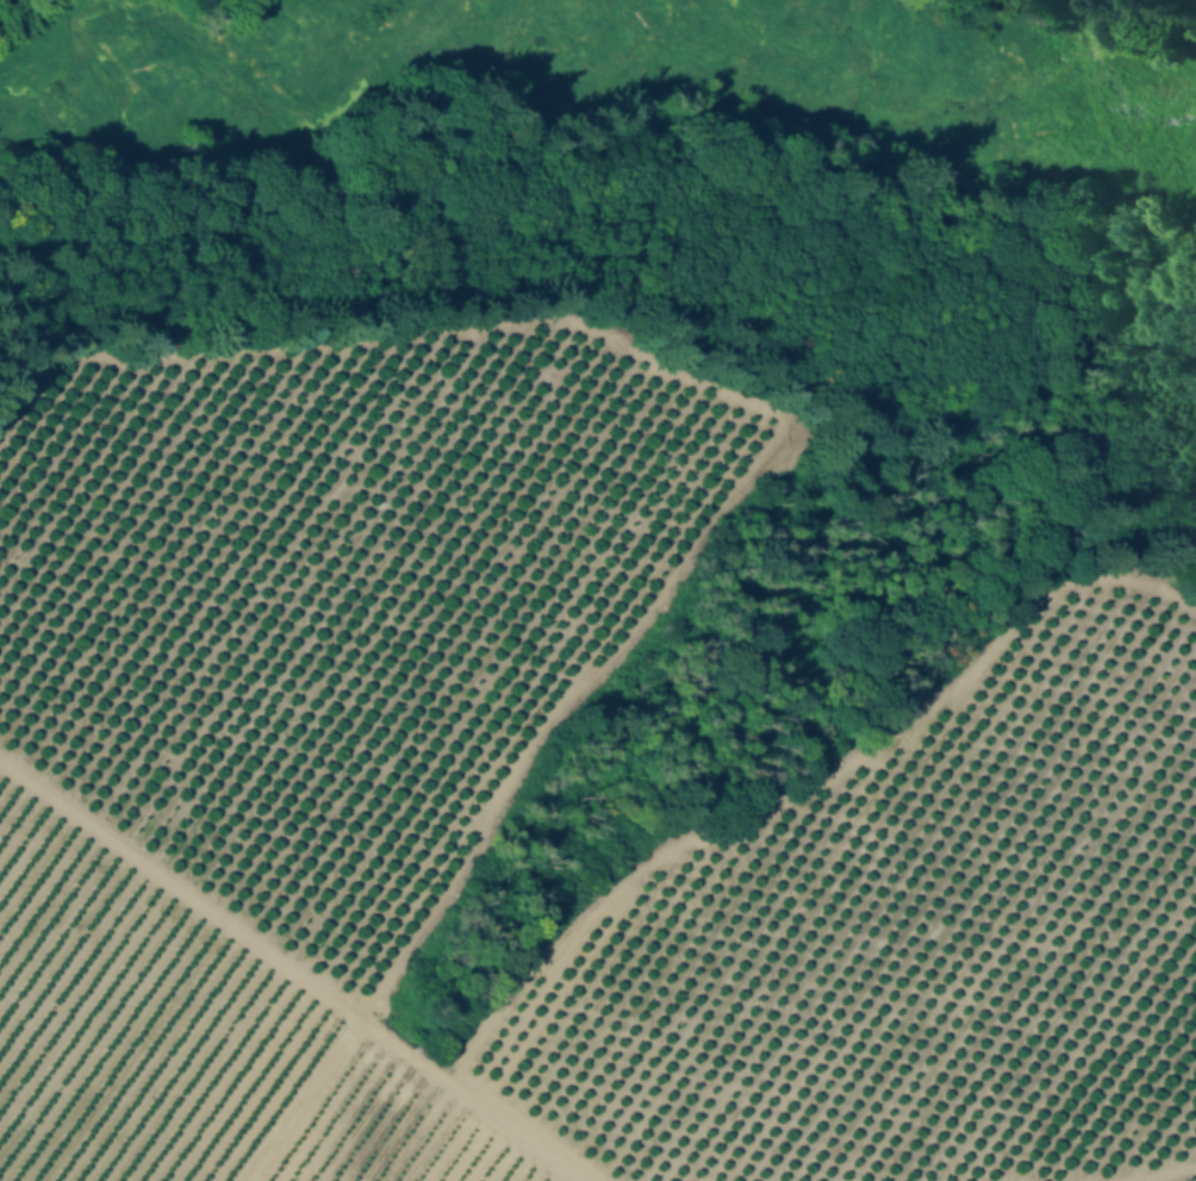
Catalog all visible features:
road: (294, 970)
crop: (200, 1033)

